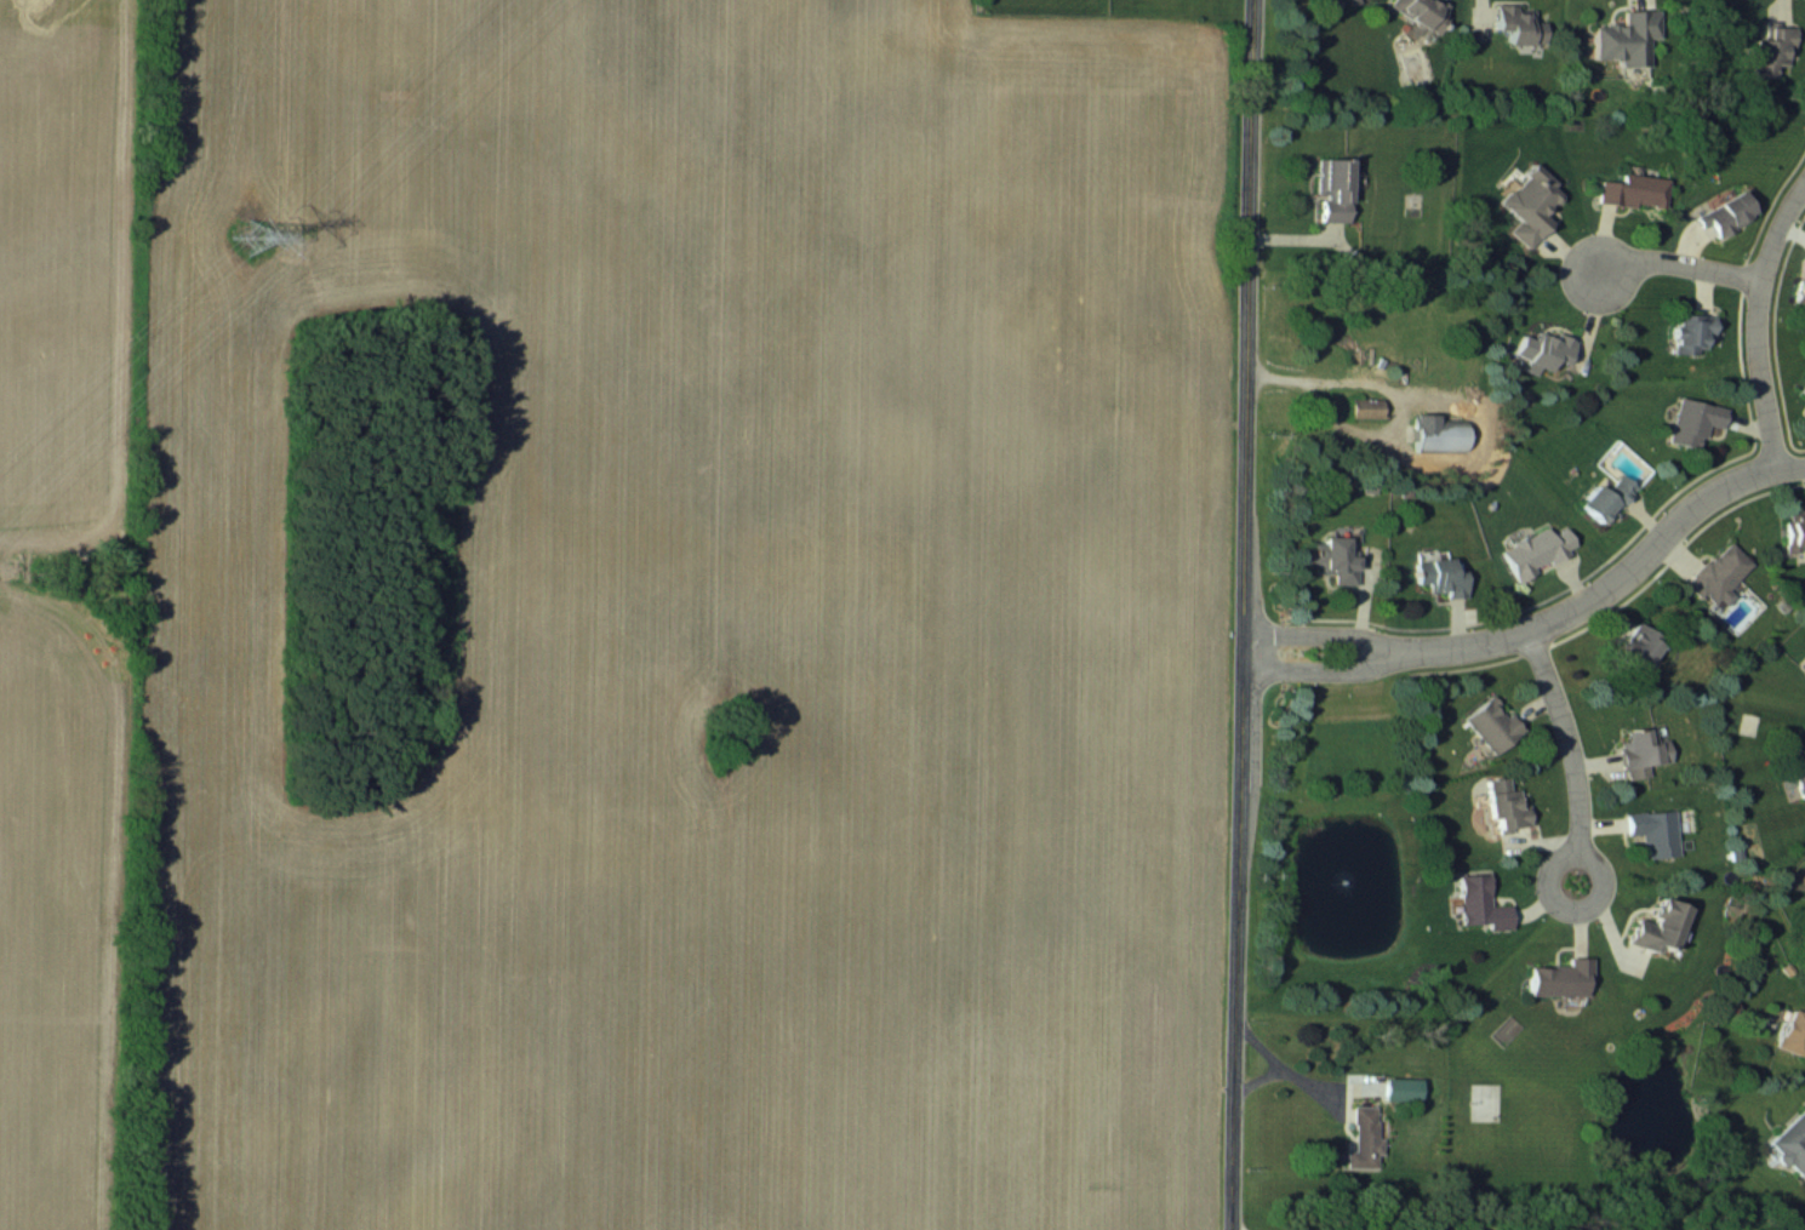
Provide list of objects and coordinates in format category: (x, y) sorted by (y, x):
building: (1417, 10)
building: (1519, 24)
building: (1623, 38)
building: (1769, 51)
building: (1332, 189)
building: (1632, 190)
building: (1524, 202)
building: (1721, 213)
power tower: (252, 235)
road: (1685, 265)
building: (1797, 290)
road: (1760, 327)
building: (1690, 332)
building: (1542, 349)
building: (1801, 390)
building: (1364, 406)
building: (1804, 412)
building: (1692, 422)
building: (1605, 496)
building: (1793, 528)
building: (1535, 549)
building: (1335, 560)
building: (1719, 573)
building: (1438, 576)
road: (1613, 587)
road: (1228, 614)
road: (1313, 636)
building: (1634, 646)
road: (1314, 670)
building: (1490, 722)
road: (1569, 733)
building: (1640, 749)
building: (1795, 768)
building: (1502, 802)
building: (1653, 830)
road: (1604, 897)
building: (1476, 902)
building: (1653, 922)
building: (1556, 977)
building: (1788, 1029)
road: (1283, 1069)
road: (1257, 1087)
building: (1394, 1088)
building: (1487, 1100)
building: (1363, 1138)
building: (1792, 1143)

